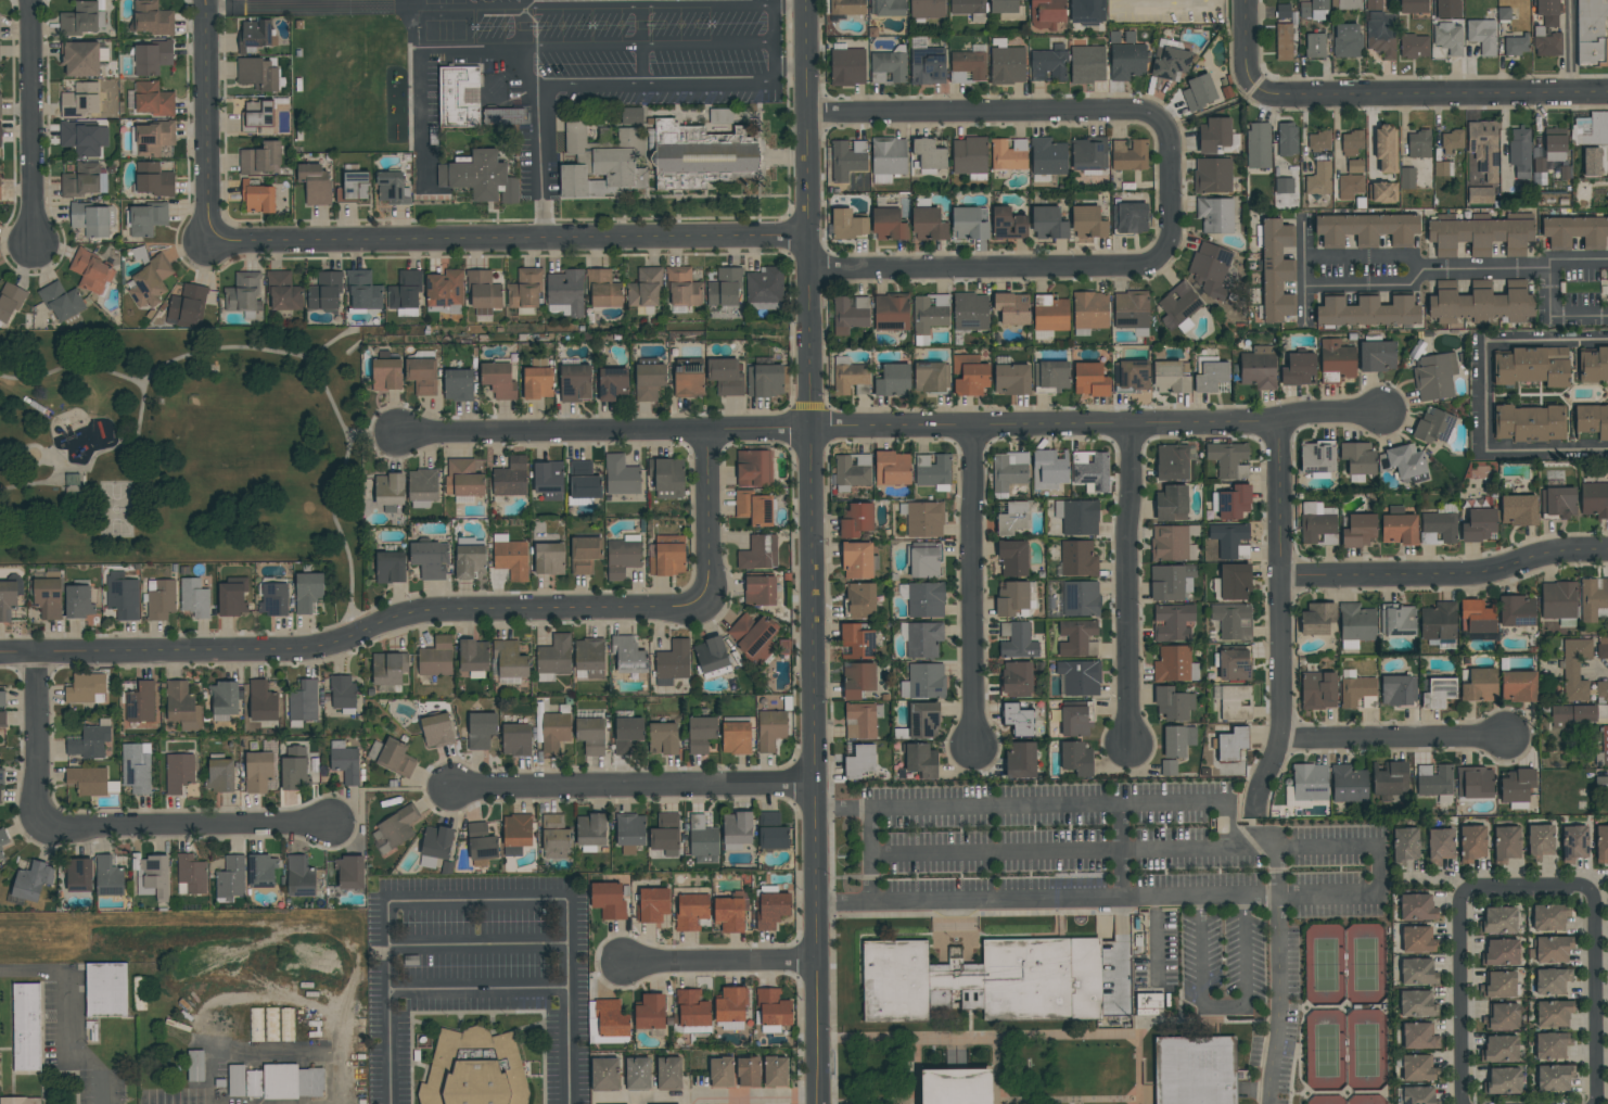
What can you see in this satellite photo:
road: (527, 3)
building: (1350, 4)
building: (1374, 4)
road: (789, 5)
road: (653, 7)
building: (967, 7)
building: (1414, 7)
road: (303, 8)
road: (464, 8)
building: (847, 8)
building: (889, 8)
road: (1165, 8)
building: (927, 9)
building: (1008, 9)
building: (1447, 9)
building: (1304, 10)
building: (1319, 10)
building: (1087, 11)
building: (1282, 11)
building: (1547, 12)
building: (1047, 14)
building: (1504, 14)
building: (152, 17)
building: (79, 18)
building: (1592, 33)
building: (257, 34)
building: (1381, 34)
building: (1482, 36)
parking lot: (636, 37)
road: (771, 37)
building: (1449, 38)
building: (1347, 40)
building: (1284, 42)
building: (1546, 43)
building: (1516, 45)
road: (649, 46)
road: (1246, 46)
building: (1315, 46)
building: (1414, 46)
road: (1571, 48)
road: (526, 50)
building: (152, 58)
building: (82, 59)
building: (1127, 60)
road: (419, 62)
building: (1007, 63)
building: (1049, 64)
building: (1087, 64)
building: (1171, 64)
building: (969, 65)
road: (788, 66)
building: (889, 66)
building: (927, 66)
building: (847, 67)
building: (258, 74)
road: (664, 85)
building: (1199, 92)
road: (1430, 97)
building: (86, 100)
building: (152, 100)
road: (984, 113)
building: (506, 116)
building: (631, 116)
building: (257, 118)
road: (33, 124)
road: (207, 125)
building: (1214, 135)
building: (0, 137)
building: (576, 137)
building: (153, 138)
building: (1287, 139)
building: (1319, 141)
road: (1337, 141)
building: (1453, 141)
building: (1352, 142)
building: (1593, 142)
building: (1419, 144)
building: (1555, 144)
building: (1259, 145)
building: (1484, 148)
building: (1387, 149)
building: (1520, 152)
building: (929, 154)
building: (1008, 154)
building: (1088, 154)
building: (699, 155)
building: (969, 155)
building: (1128, 155)
building: (1048, 156)
building: (260, 158)
building: (888, 158)
building: (847, 160)
road: (541, 164)
building: (1355, 166)
building: (1443, 168)
building: (605, 172)
building: (1540, 172)
building: (1213, 176)
building: (481, 178)
building: (1406, 178)
building: (153, 179)
building: (1319, 179)
building: (85, 180)
building: (316, 183)
building: (0, 185)
building: (1284, 186)
building: (1350, 186)
building: (353, 188)
building: (392, 189)
road: (1170, 190)
building: (1383, 192)
building: (1480, 195)
building: (258, 199)
building: (1215, 215)
building: (1131, 218)
building: (145, 219)
building: (90, 220)
building: (1088, 221)
building: (970, 223)
building: (1008, 224)
building: (1048, 224)
building: (848, 225)
building: (889, 225)
building: (929, 225)
building: (1367, 229)
building: (1575, 231)
building: (1480, 236)
road: (507, 240)
road: (1364, 256)
road: (1579, 258)
road: (985, 268)
building: (1210, 269)
building: (1276, 270)
road: (1485, 270)
building: (91, 272)
road: (1302, 272)
building: (150, 282)
building: (764, 285)
road: (1365, 287)
building: (682, 288)
building: (725, 288)
road: (1549, 288)
building: (525, 289)
building: (603, 289)
building: (646, 289)
building: (362, 291)
building: (283, 292)
building: (326, 292)
building: (445, 292)
building: (244, 293)
building: (406, 293)
building: (484, 293)
building: (565, 293)
building: (10, 302)
building: (1480, 303)
building: (64, 306)
building: (188, 306)
building: (1179, 307)
building: (1012, 308)
building: (891, 312)
building: (971, 312)
building: (1089, 312)
building: (1132, 312)
building: (1367, 312)
building: (851, 314)
building: (1050, 314)
building: (930, 315)
road: (1579, 316)
road: (1546, 340)
building: (1377, 356)
building: (1337, 360)
road: (177, 361)
building: (1594, 366)
building: (1533, 367)
building: (1259, 368)
building: (1299, 370)
building: (386, 375)
building: (422, 376)
building: (969, 376)
building: (1051, 376)
building: (1133, 376)
building: (726, 377)
building: (1171, 377)
building: (1211, 377)
building: (1435, 377)
building: (931, 378)
building: (1011, 379)
building: (499, 380)
building: (688, 380)
building: (766, 380)
building: (1090, 380)
building: (649, 381)
building: (893, 381)
building: (537, 383)
building: (575, 383)
building: (612, 384)
building: (458, 385)
road: (1486, 398)
road: (1330, 415)
building: (1592, 420)
building: (1529, 423)
building: (1433, 426)
road: (1042, 427)
road: (603, 432)
road: (373, 434)
road: (1548, 451)
park: (186, 453)
building: (1318, 457)
building: (1228, 459)
building: (1357, 459)
building: (1405, 460)
road: (93, 461)
building: (1172, 462)
building: (892, 468)
building: (754, 469)
building: (1049, 469)
building: (853, 470)
building: (933, 471)
building: (1009, 471)
building: (1090, 471)
building: (621, 477)
building: (511, 478)
building: (667, 478)
building: (462, 479)
building: (548, 480)
building: (583, 481)
building: (74, 482)
building: (423, 488)
building: (388, 490)
road: (337, 495)
building: (1594, 499)
building: (1558, 502)
building: (1234, 503)
road: (1278, 503)
building: (1172, 504)
building: (754, 508)
building: (1518, 510)
park: (117, 512)
building: (1077, 517)
building: (1012, 519)
road: (709, 520)
building: (856, 520)
building: (924, 520)
building: (1441, 523)
building: (1317, 524)
building: (1479, 525)
building: (1399, 529)
building: (1358, 531)
building: (1429, 538)
building: (1230, 540)
building: (1172, 544)
road: (809, 551)
building: (758, 553)
building: (584, 555)
building: (623, 556)
building: (511, 558)
building: (1013, 558)
building: (549, 559)
building: (666, 559)
building: (1079, 559)
building: (430, 560)
building: (924, 560)
building: (470, 561)
building: (858, 561)
building: (390, 568)
road: (1445, 575)
building: (1170, 582)
building: (1235, 582)
road: (974, 588)
road: (1128, 588)
building: (760, 591)
building: (308, 592)
building: (123, 596)
building: (48, 598)
building: (194, 598)
building: (232, 598)
building: (1081, 598)
building: (8, 599)
building: (161, 599)
building: (273, 599)
building: (926, 599)
building: (1012, 599)
building: (1593, 599)
building: (860, 600)
building: (1558, 600)
building: (78, 601)
building: (1517, 611)
building: (1477, 617)
building: (1317, 619)
building: (1398, 620)
building: (1233, 621)
building: (1439, 621)
building: (1174, 622)
building: (1356, 625)
road: (356, 635)
building: (753, 637)
building: (1079, 638)
building: (923, 639)
building: (857, 642)
building: (1019, 643)
building: (1601, 649)
building: (628, 655)
building: (473, 656)
building: (436, 657)
building: (510, 659)
building: (673, 661)
building: (1175, 664)
building: (1234, 665)
building: (388, 669)
building: (1575, 669)
road: (1597, 671)
building: (1016, 678)
building: (1079, 678)
building: (858, 680)
building: (924, 682)
building: (1479, 686)
building: (1518, 686)
building: (85, 687)
building: (1601, 688)
building: (1355, 689)
building: (1318, 690)
building: (1398, 690)
building: (342, 691)
building: (1439, 694)
building: (2, 699)
road: (1281, 699)
building: (224, 700)
building: (263, 701)
building: (304, 701)
building: (1234, 701)
building: (140, 702)
building: (1173, 703)
building: (182, 707)
building: (1573, 714)
building: (2, 720)
building: (1018, 720)
building: (860, 721)
building: (923, 721)
building: (1076, 721)
building: (481, 729)
building: (770, 729)
building: (436, 731)
building: (554, 732)
building: (701, 734)
building: (590, 735)
building: (628, 735)
building: (736, 737)
building: (663, 738)
road: (38, 739)
road: (1392, 739)
building: (516, 740)
building: (1178, 740)
building: (89, 741)
building: (1231, 744)
building: (1605, 746)
building: (392, 757)
building: (1076, 759)
building: (921, 760)
building: (1021, 761)
building: (345, 762)
building: (859, 762)
building: (137, 767)
building: (1169, 767)
building: (294, 769)
building: (258, 772)
building: (179, 773)
building: (220, 775)
building: (1, 777)
building: (1388, 777)
building: (88, 781)
building: (1434, 781)
building: (1310, 783)
building: (1475, 783)
building: (1601, 783)
building: (1349, 784)
building: (1516, 785)
road: (631, 786)
road: (377, 790)
building: (0, 797)
road: (1249, 807)
road: (1241, 808)
road: (841, 810)
road: (187, 826)
building: (394, 829)
building: (737, 829)
building: (629, 832)
building: (771, 832)
building: (590, 833)
building: (516, 834)
building: (3, 837)
building: (556, 837)
building: (703, 839)
building: (1540, 840)
building: (481, 842)
building: (1405, 843)
building: (1472, 843)
building: (1506, 843)
building: (1574, 843)
building: (1601, 845)
building: (435, 846)
building: (1440, 846)
road: (1049, 850)
road: (1122, 851)
building: (1, 856)
building: (261, 871)
building: (350, 873)
building: (79, 875)
building: (191, 875)
building: (109, 876)
building: (153, 876)
building: (231, 878)
road: (1595, 878)
parking lot: (1134, 879)
road: (1438, 880)
building: (33, 881)
road: (1527, 888)
road: (1128, 898)
road: (478, 900)
building: (608, 900)
road: (842, 902)
building: (653, 904)
building: (1417, 908)
building: (773, 910)
building: (691, 911)
building: (730, 914)
building: (1549, 916)
building: (1498, 921)
road: (948, 935)
building: (1417, 940)
road: (477, 946)
building: (1553, 949)
building: (1502, 952)
road: (719, 961)
park: (1347, 967)
building: (1418, 972)
road: (1279, 976)
building: (1553, 981)
building: (1003, 984)
building: (1501, 985)
road: (970, 986)
road: (477, 990)
building: (107, 993)
road: (1595, 995)
road: (1462, 998)
building: (1150, 1001)
building: (1417, 1004)
building: (730, 1006)
road: (1303, 1007)
building: (774, 1008)
road: (1224, 1008)
road: (67, 1011)
building: (692, 1011)
building: (650, 1012)
building: (1148, 1013)
building: (1554, 1013)
road: (1309, 1014)
road: (1347, 1016)
building: (1504, 1016)
building: (607, 1023)
building: (227, 1024)
building: (256, 1025)
building: (271, 1025)
building: (286, 1025)
road: (1200, 1025)
building: (26, 1031)
building: (1419, 1036)
road: (1011, 1038)
building: (1552, 1045)
building: (1501, 1049)
road: (277, 1051)
park: (1347, 1052)
building: (195, 1066)
building: (1418, 1068)
building: (475, 1070)
building: (748, 1071)
building: (776, 1071)
road: (917, 1071)
road: (996, 1071)
building: (1196, 1071)
building: (722, 1073)
building: (637, 1074)
building: (669, 1074)
building: (605, 1075)
building: (1554, 1077)
building: (1504, 1081)
building: (237, 1084)
building: (291, 1086)
building: (254, 1087)
building: (957, 1087)
building: (1418, 1095)
road: (1338, 1096)
road: (711, 1101)
park: (1368, 1101)
building: (21, 1102)
road: (640, 1102)
road: (742, 1102)
road: (1068, 1102)
road: (1307, 1102)
park: (1327, 1102)
road: (956, 1103)
road: (1348, 1103)

